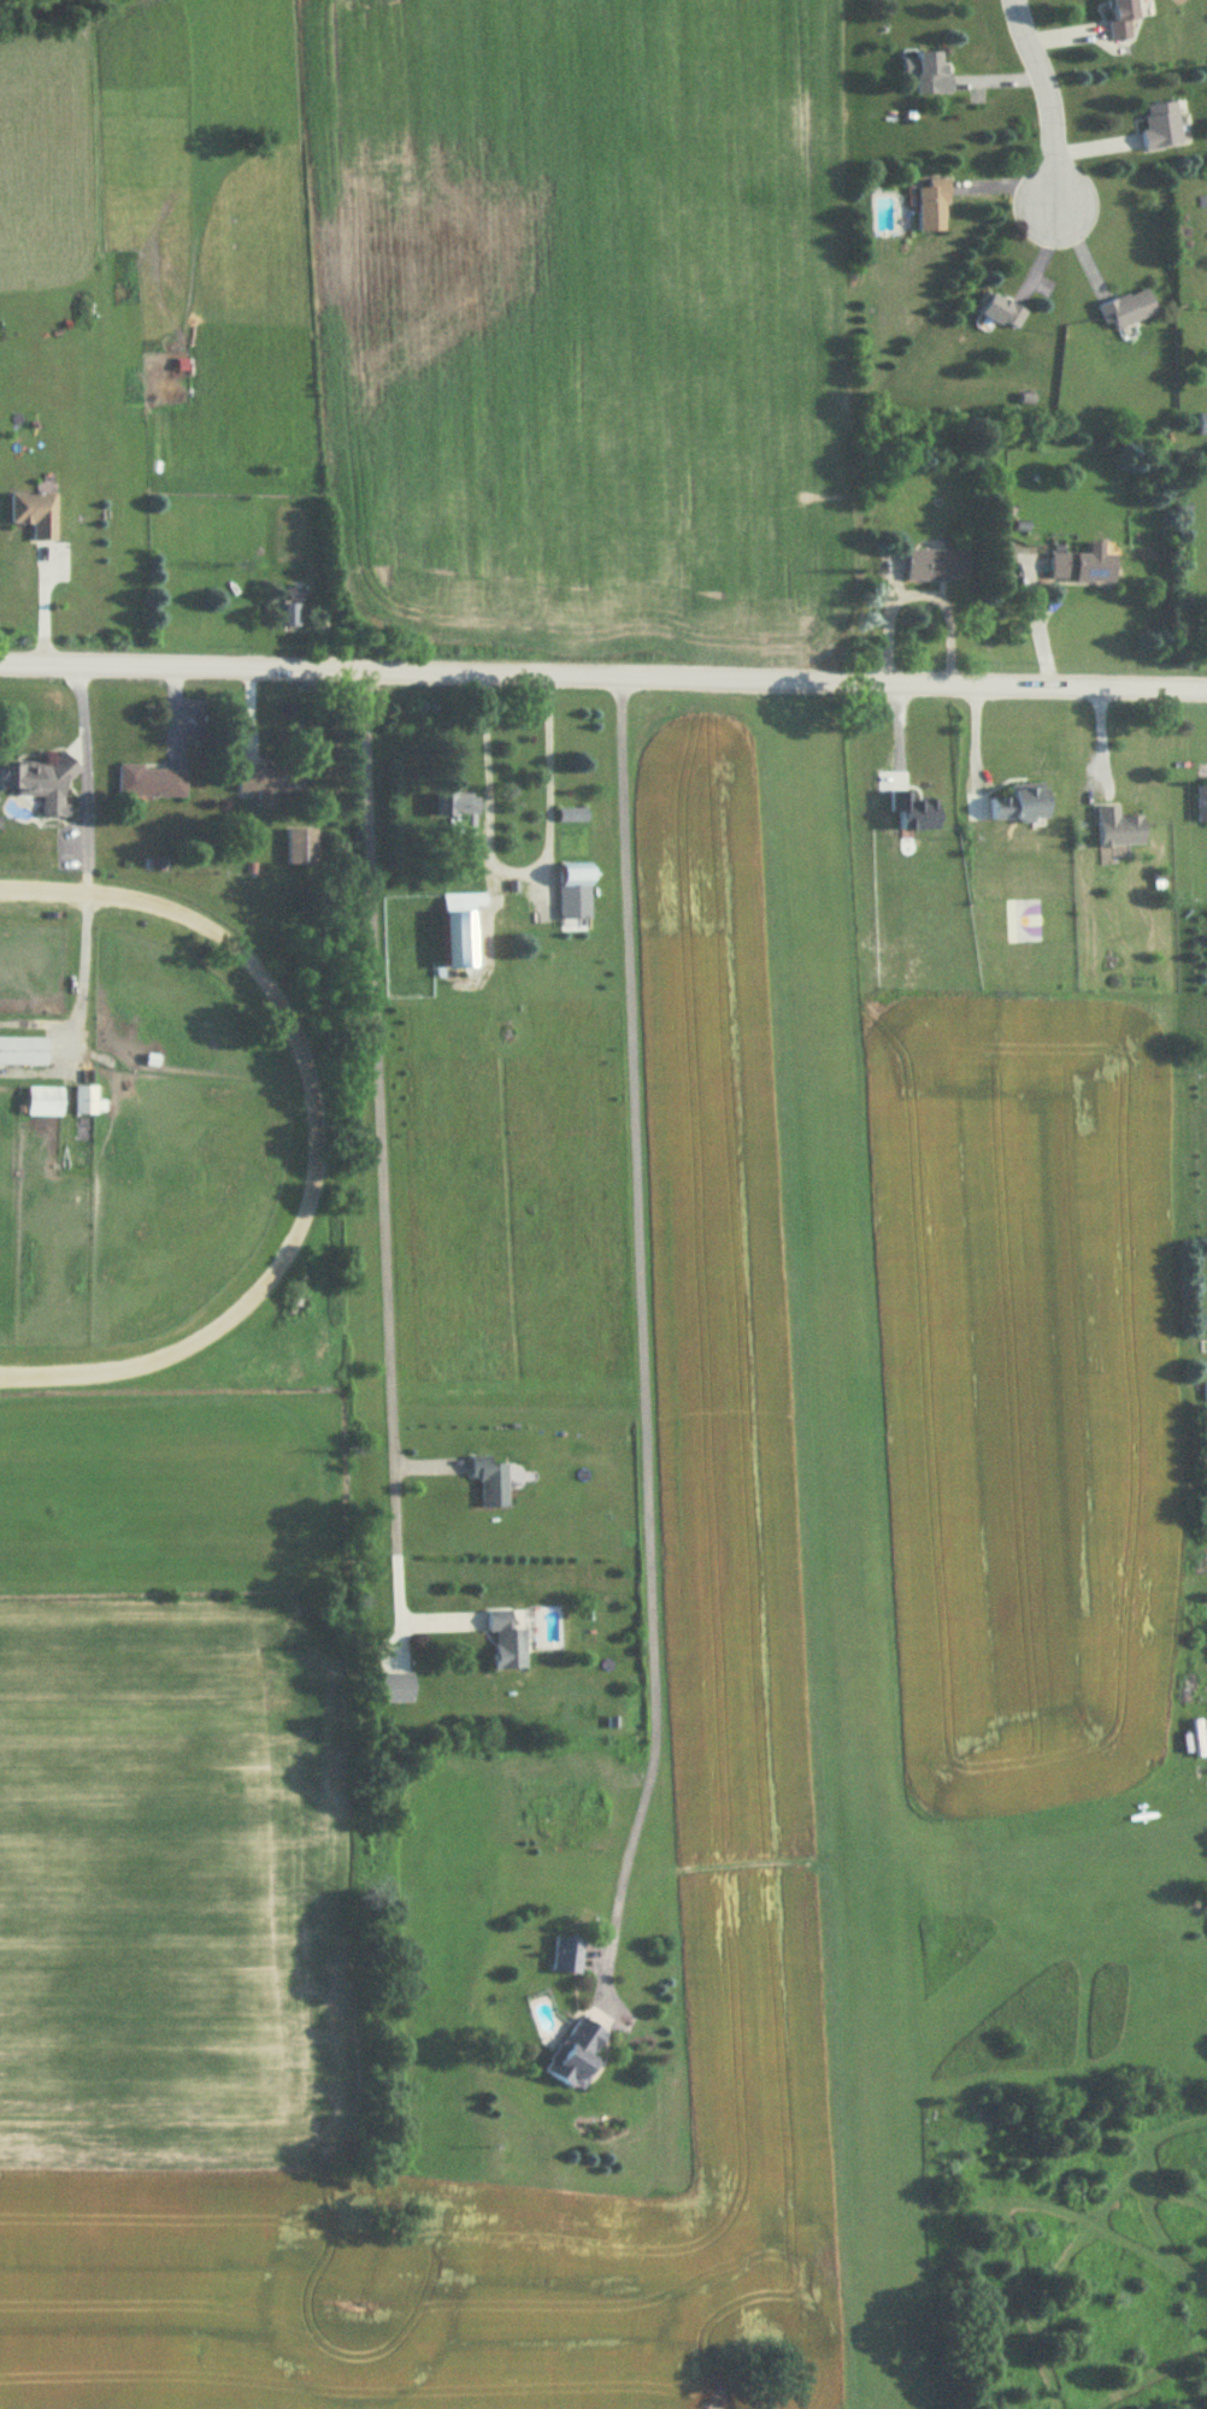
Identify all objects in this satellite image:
building: (1121, 17)
building: (931, 75)
road: (1047, 102)
building: (1162, 125)
building: (934, 207)
building: (1129, 311)
building: (1000, 312)
building: (1201, 425)
building: (37, 511)
building: (937, 566)
building: (1084, 566)
road: (920, 590)
building: (295, 596)
building: (287, 617)
road: (602, 676)
building: (152, 783)
building: (270, 784)
building: (40, 785)
building: (1023, 803)
building: (1200, 803)
building: (458, 807)
building: (572, 815)
building: (1119, 829)
road: (89, 849)
building: (301, 849)
road: (516, 872)
building: (576, 893)
road: (488, 903)
building: (463, 933)
building: (24, 1053)
building: (45, 1102)
building: (86, 1102)
road: (320, 1127)
road: (382, 1152)
road: (643, 1333)
building: (491, 1483)
building: (507, 1642)
building: (569, 1956)
building: (578, 2054)

